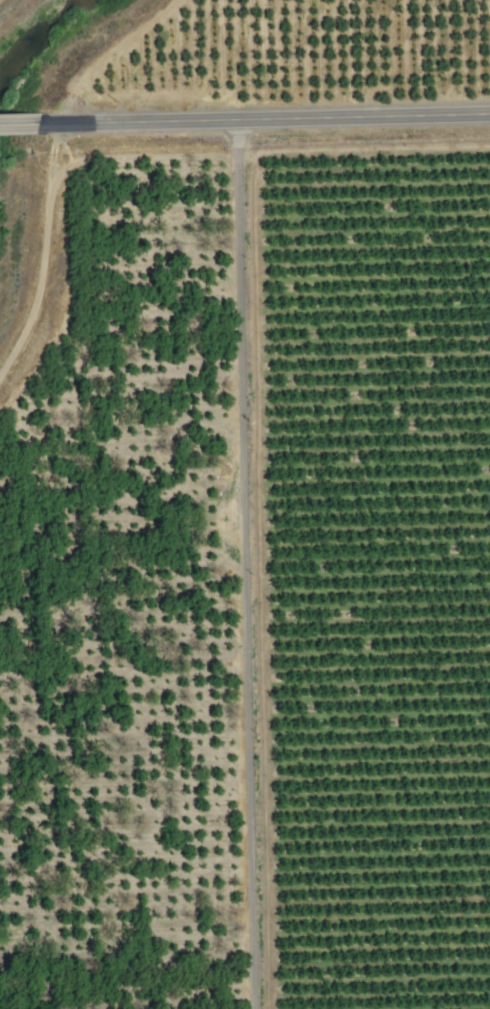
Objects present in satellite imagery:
road: (268, 123)
road: (23, 126)
road: (45, 256)
road: (238, 566)

